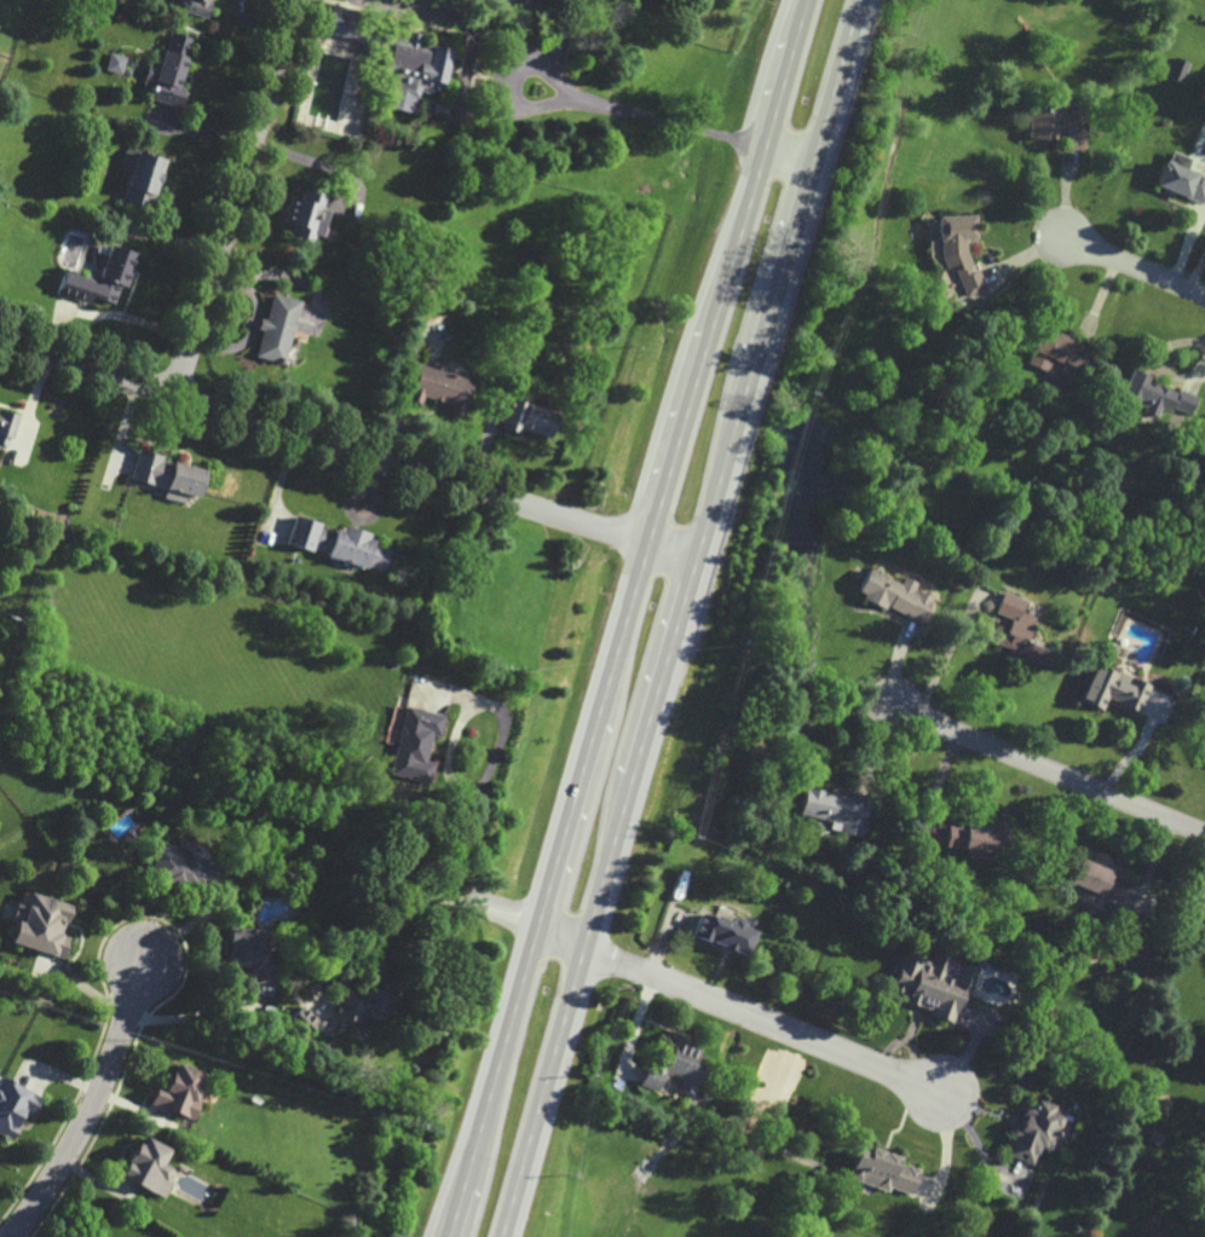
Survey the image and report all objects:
building: (196, 7)
building: (344, 23)
road: (252, 30)
road: (561, 36)
building: (114, 63)
building: (168, 71)
building: (413, 71)
road: (569, 89)
building: (1045, 120)
road: (786, 155)
road: (311, 160)
building: (139, 178)
building: (1180, 178)
road: (233, 197)
building: (305, 218)
building: (958, 249)
road: (1131, 266)
building: (99, 278)
road: (106, 313)
building: (275, 329)
building: (1055, 351)
building: (439, 388)
building: (1154, 395)
building: (527, 418)
building: (7, 426)
road: (347, 450)
building: (168, 475)
building: (357, 549)
building: (894, 595)
road: (628, 618)
road: (680, 618)
building: (1015, 630)
building: (1113, 688)
building: (415, 742)
building: (1204, 763)
road: (1049, 770)
road: (452, 781)
building: (835, 810)
building: (978, 837)
building: (185, 868)
building: (1097, 883)
road: (407, 906)
building: (40, 925)
building: (725, 931)
building: (1204, 941)
building: (248, 954)
building: (933, 983)
building: (367, 1007)
road: (742, 1011)
road: (128, 1015)
building: (302, 1022)
building: (674, 1067)
building: (180, 1092)
building: (13, 1108)
building: (1034, 1132)
road: (75, 1156)
building: (149, 1167)
building: (882, 1172)

